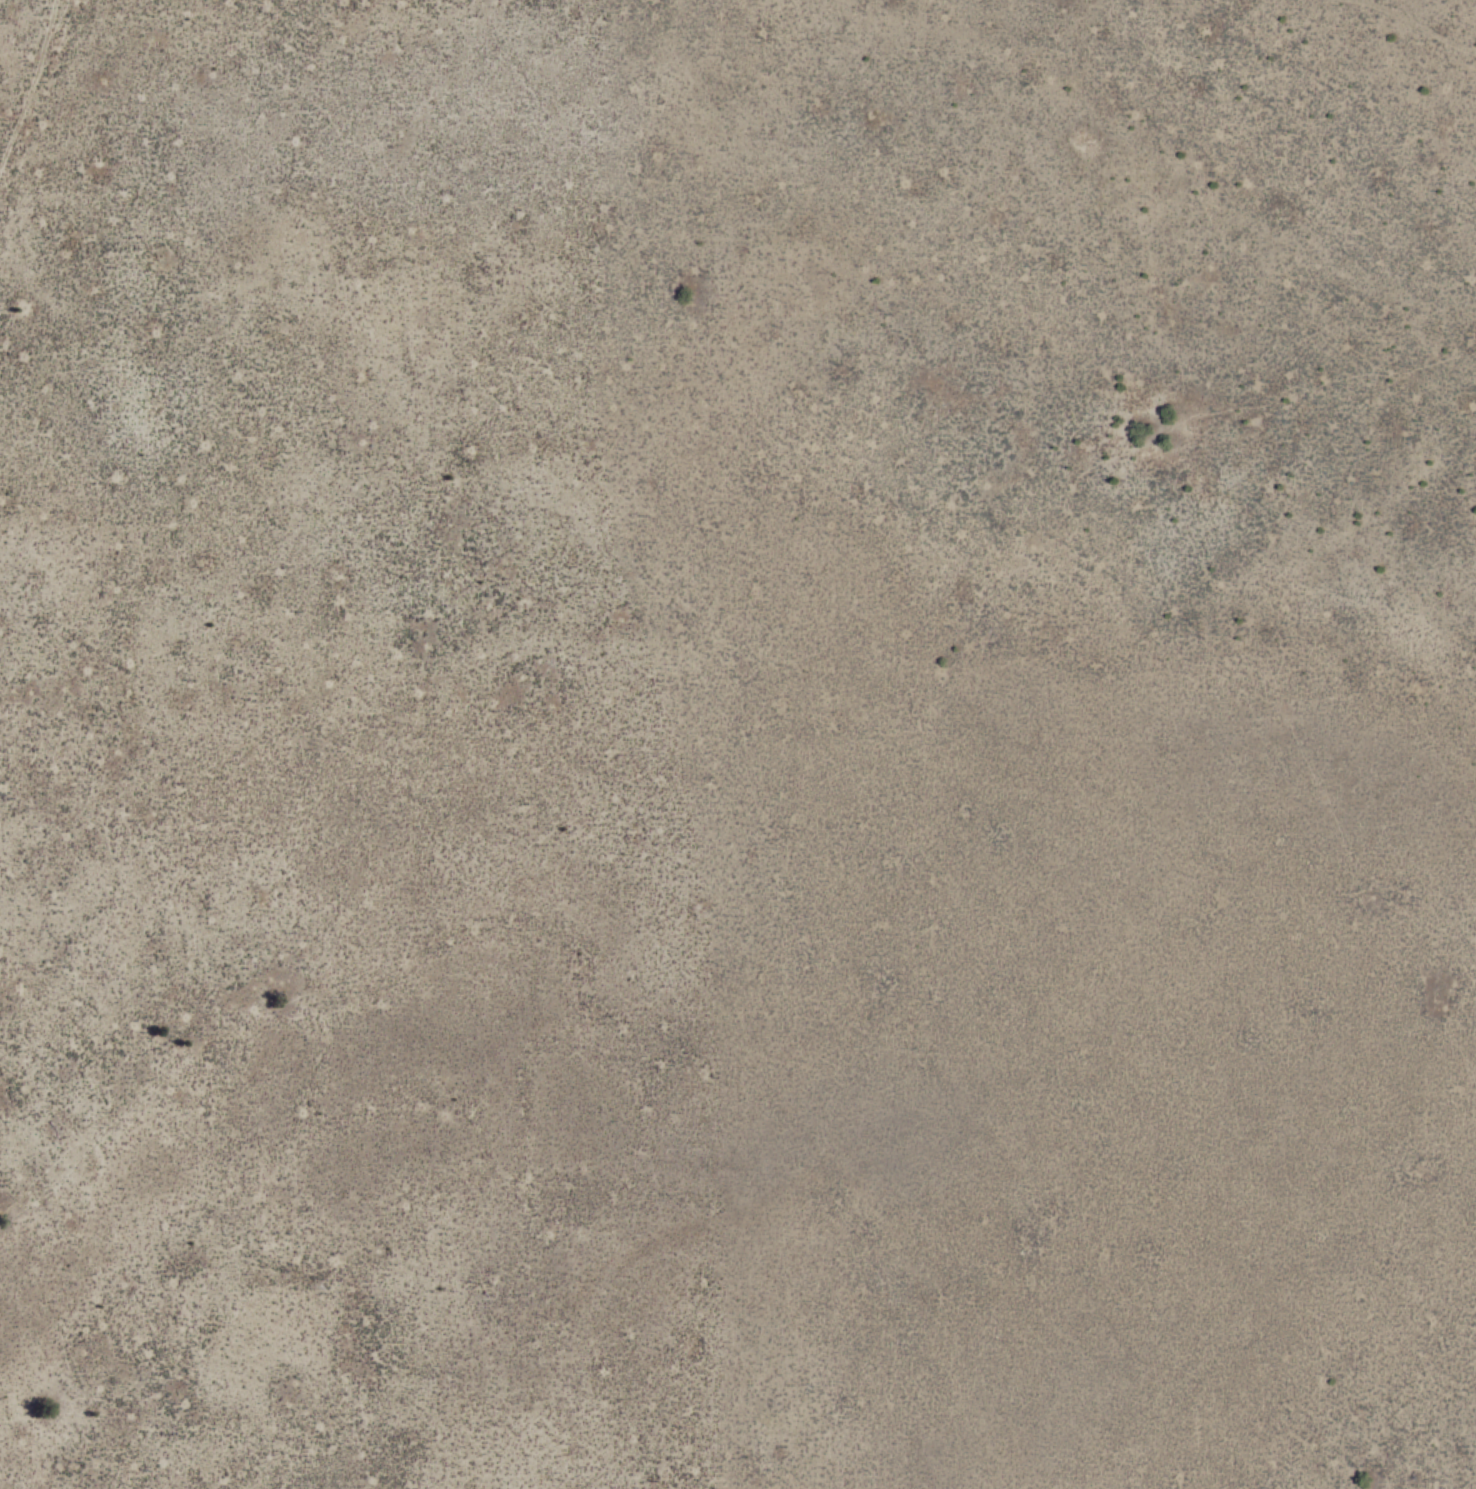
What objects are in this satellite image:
road: (1456, 13)
road: (29, 85)

